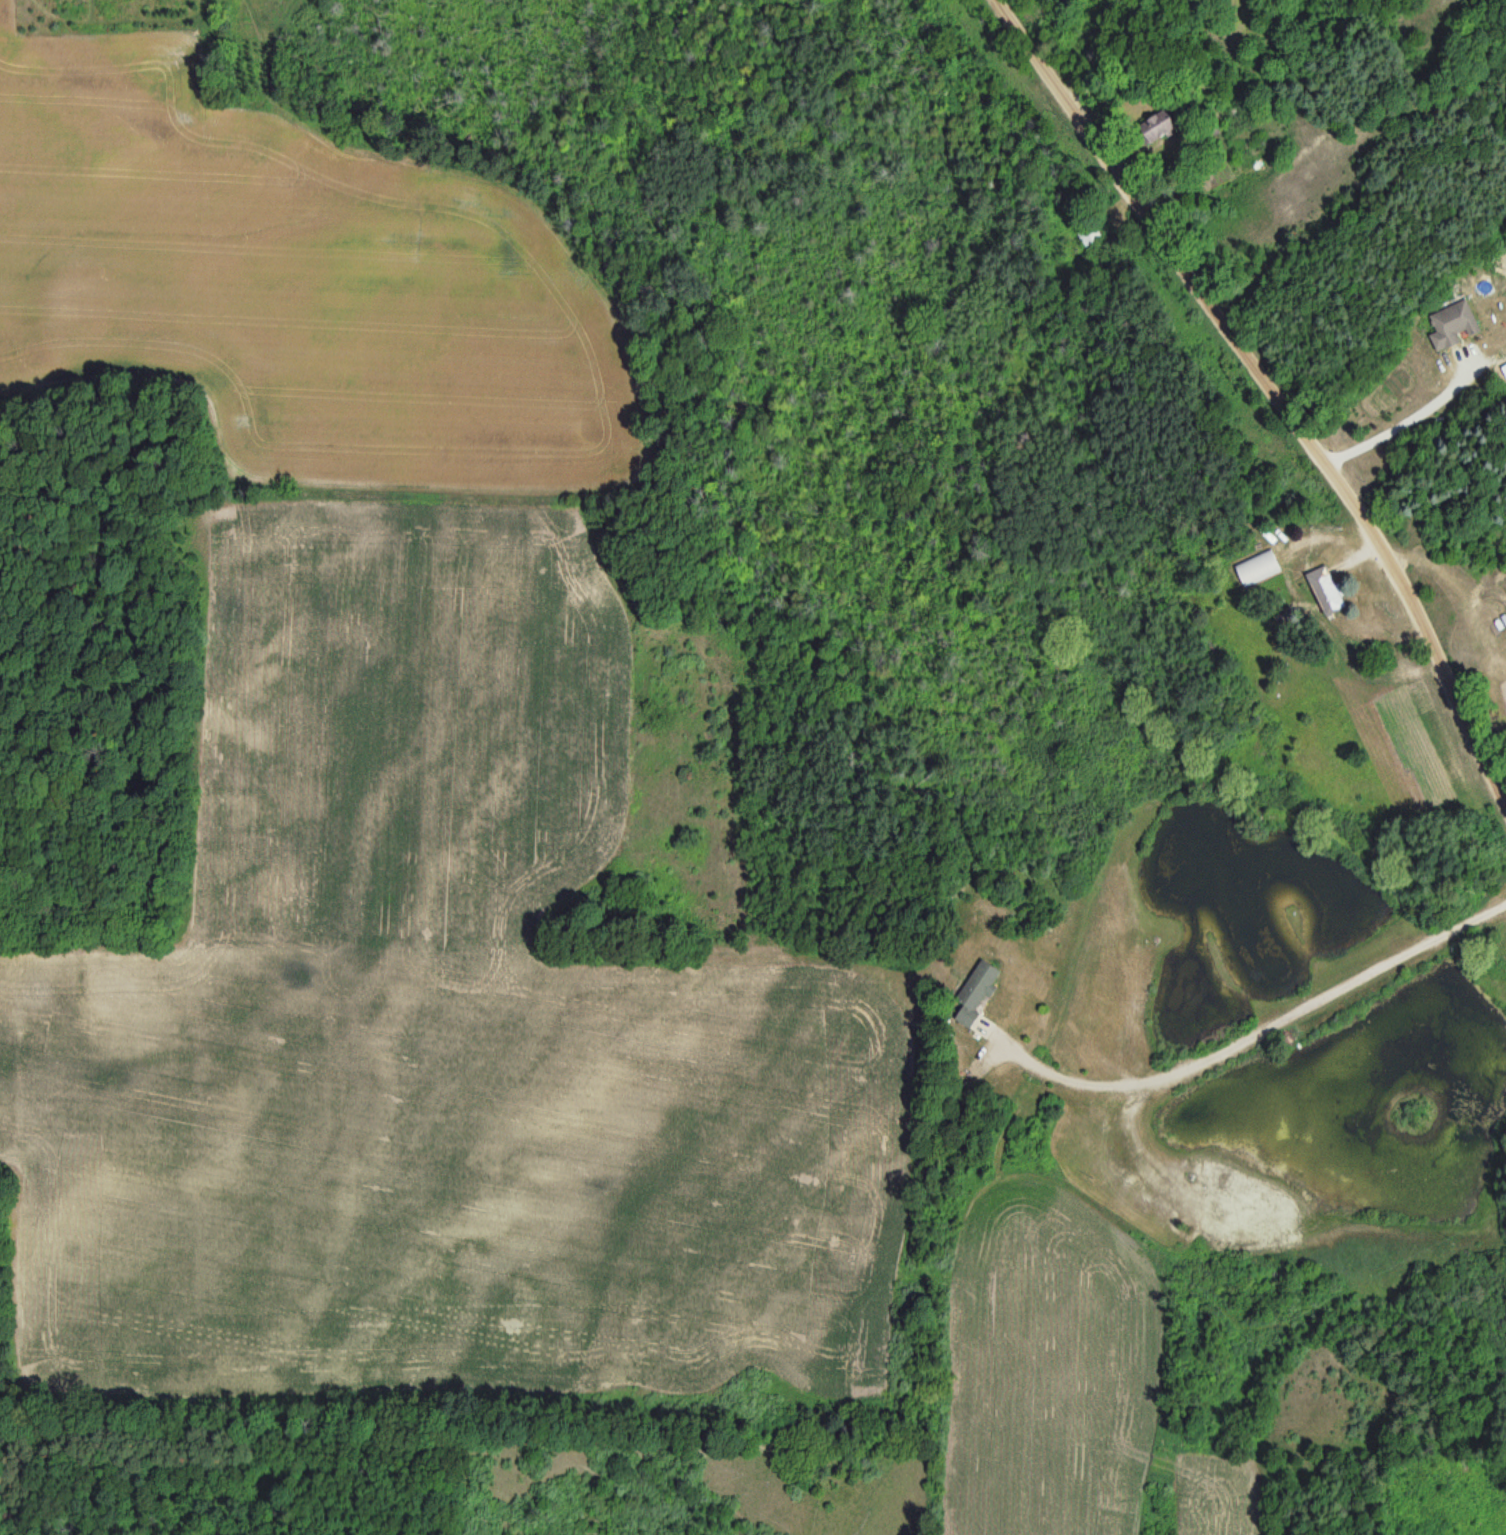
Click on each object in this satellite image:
building: (1152, 129)
building: (1087, 234)
building: (1450, 325)
road: (1275, 385)
building: (1256, 570)
building: (1322, 591)
building: (390, 950)
building: (973, 993)

